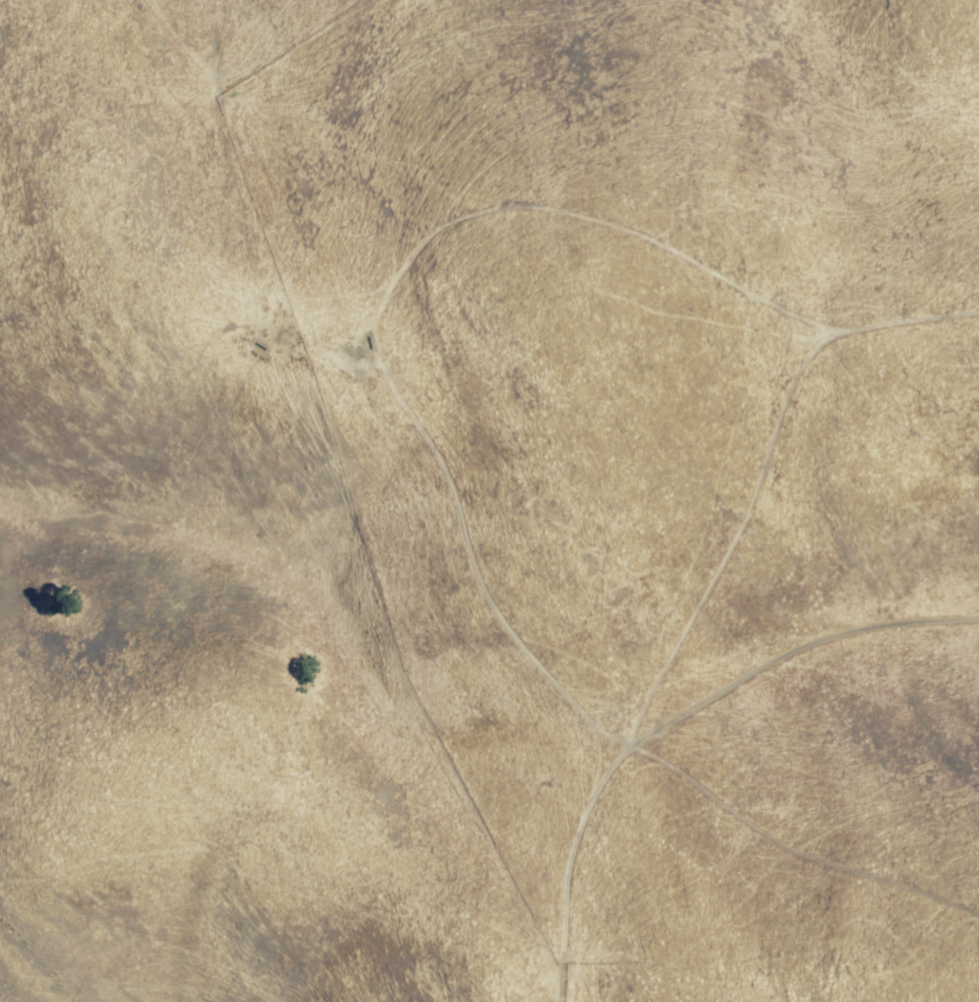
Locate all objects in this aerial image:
road: (675, 719)

